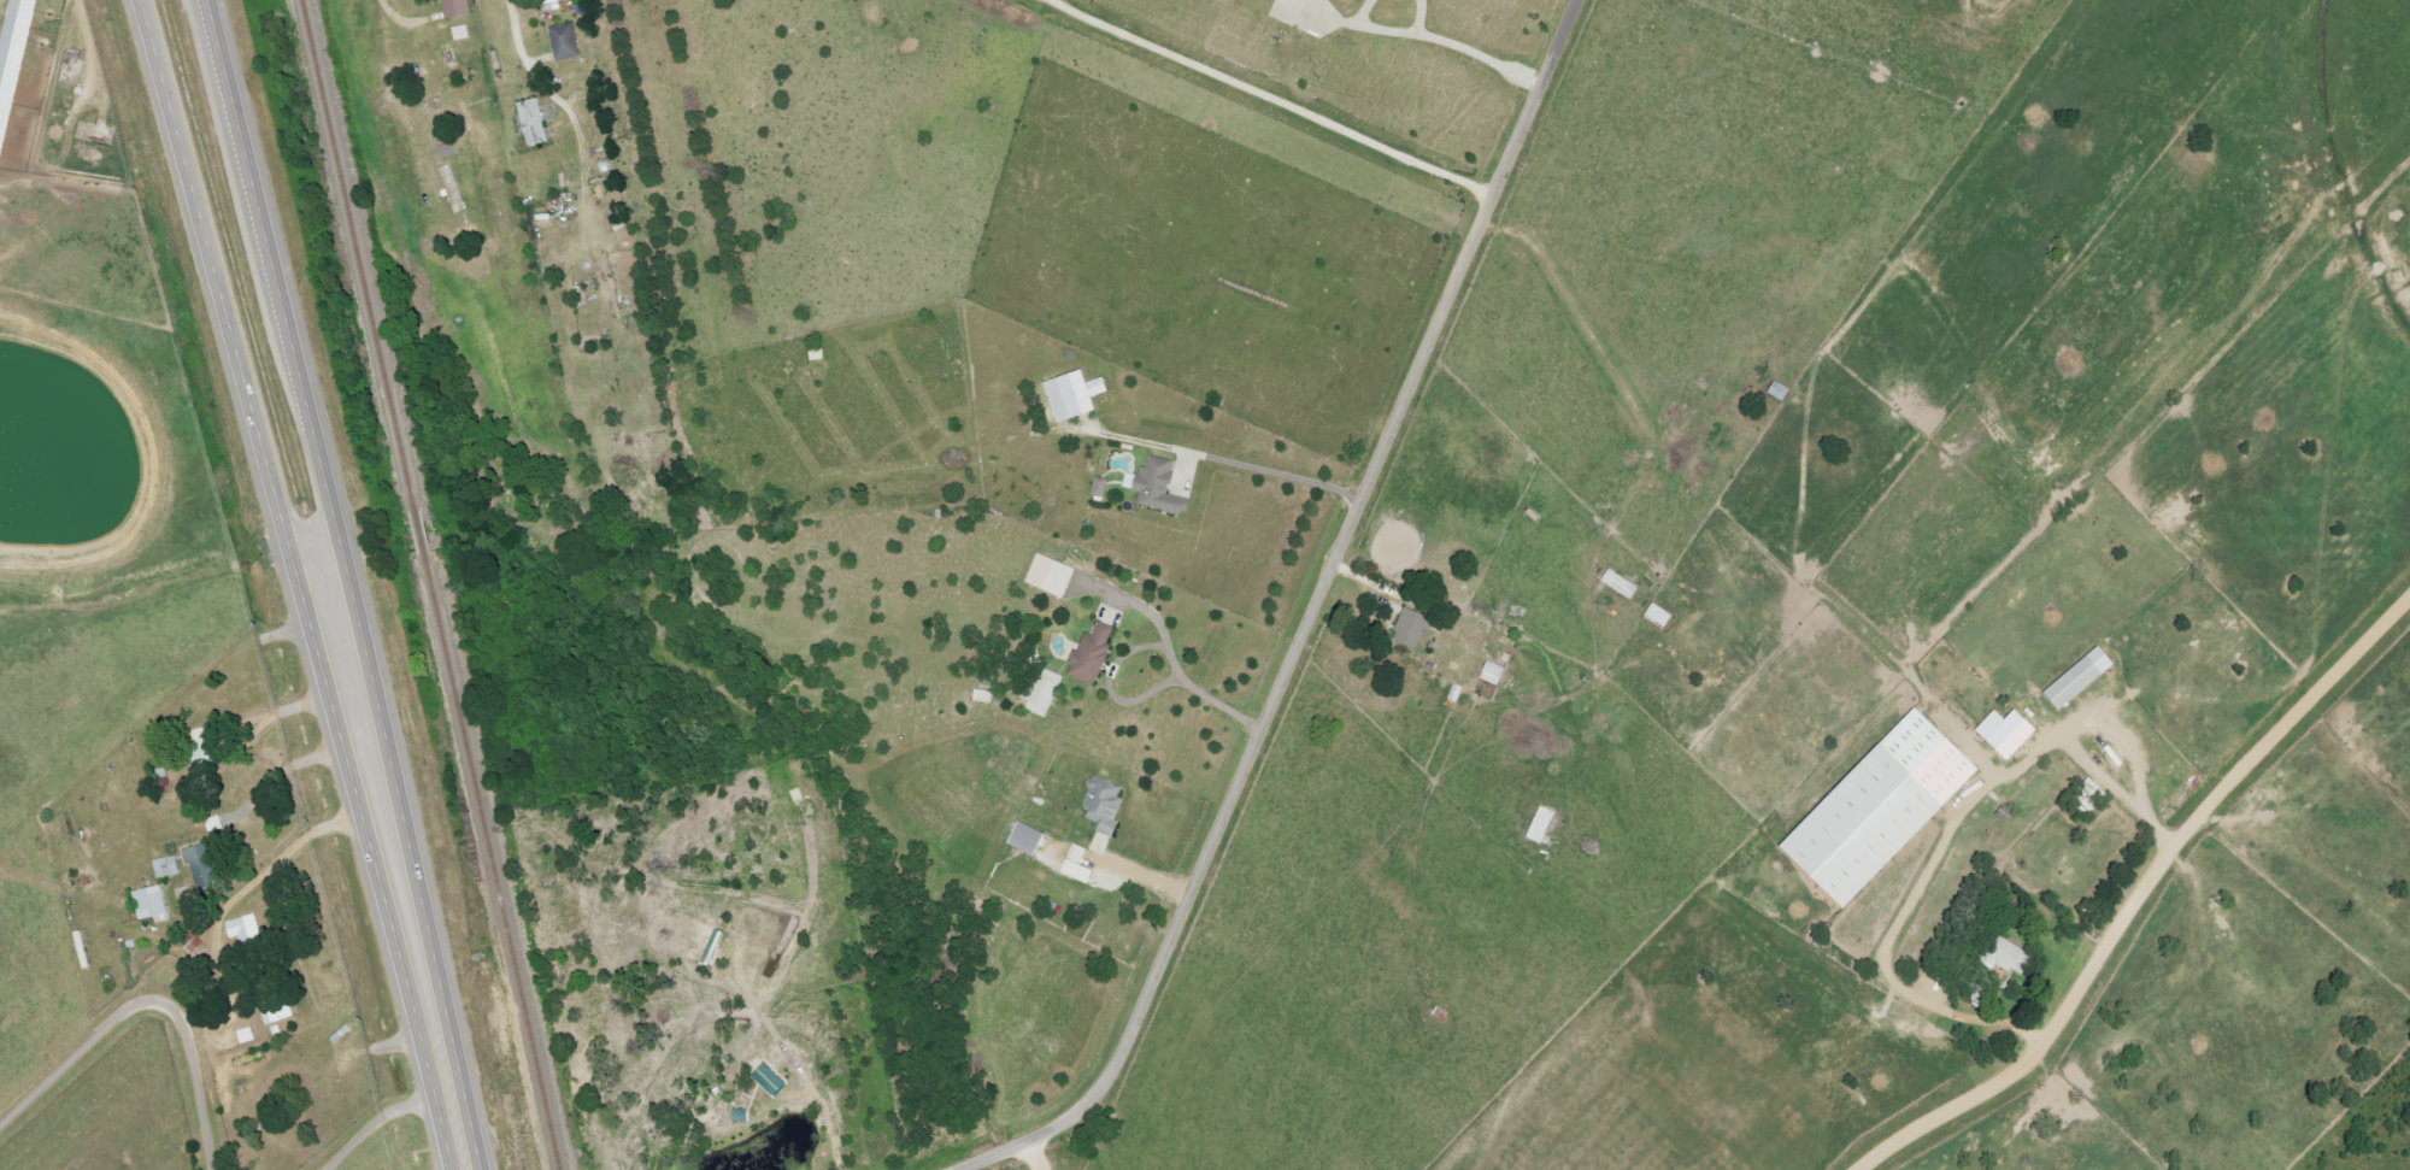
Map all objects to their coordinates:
building: (459, 8)
building: (1300, 14)
road: (1421, 19)
road: (400, 23)
road: (1374, 33)
building: (568, 42)
road: (1477, 63)
building: (13, 67)
road: (582, 86)
road: (1271, 100)
building: (536, 123)
road: (275, 292)
road: (213, 300)
building: (1078, 395)
road: (1258, 472)
building: (1103, 487)
building: (1160, 487)
building: (1053, 575)
railway: (425, 584)
building: (1623, 584)
building: (1663, 615)
road: (1714, 615)
road: (1310, 619)
building: (1415, 627)
building: (1094, 653)
building: (1497, 672)
building: (2085, 677)
building: (1046, 693)
building: (986, 696)
road: (1205, 700)
road: (276, 716)
building: (2011, 731)
road: (2121, 745)
building: (1107, 804)
building: (1886, 807)
building: (1030, 839)
road: (1940, 851)
building: (1081, 865)
building: (202, 866)
building: (169, 868)
road: (387, 878)
road: (257, 880)
road: (2138, 896)
building: (155, 904)
building: (247, 929)
building: (196, 946)
building: (2012, 956)
road: (148, 1005)
building: (281, 1012)
building: (771, 1078)
road: (819, 1103)
road: (381, 1131)
road: (1040, 1156)

